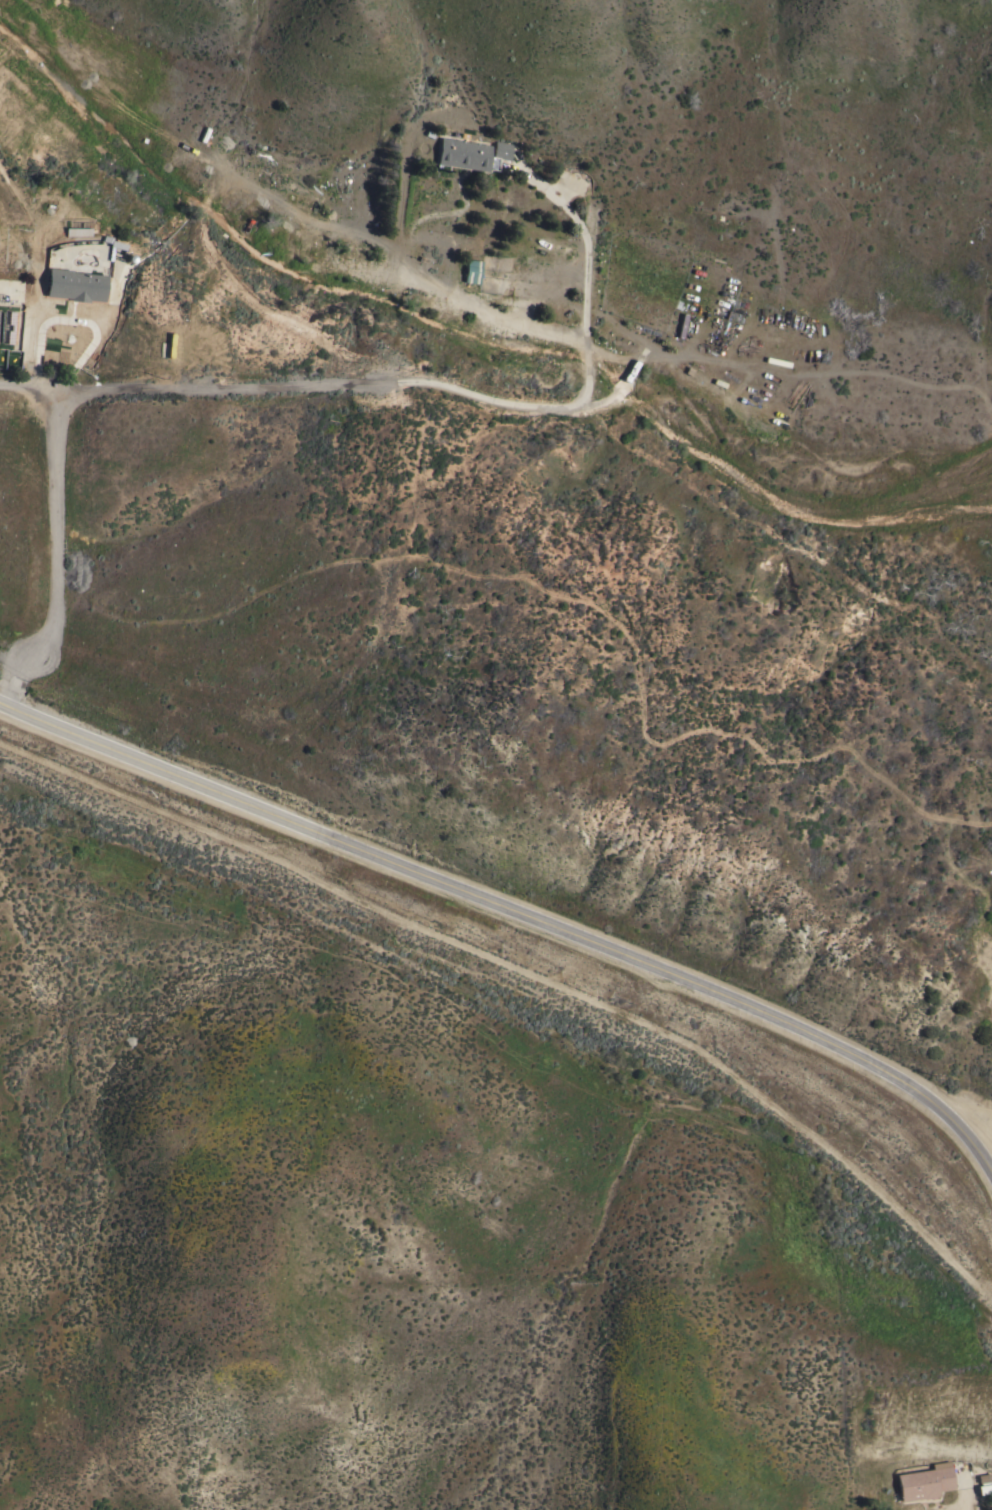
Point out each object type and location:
building: (469, 154)
building: (77, 231)
building: (112, 242)
building: (472, 270)
road: (405, 273)
building: (75, 284)
road: (74, 322)
road: (281, 386)
road: (27, 388)
road: (513, 914)
road: (978, 1129)
building: (984, 1477)
building: (924, 1481)
building: (984, 1488)
road: (961, 1509)

